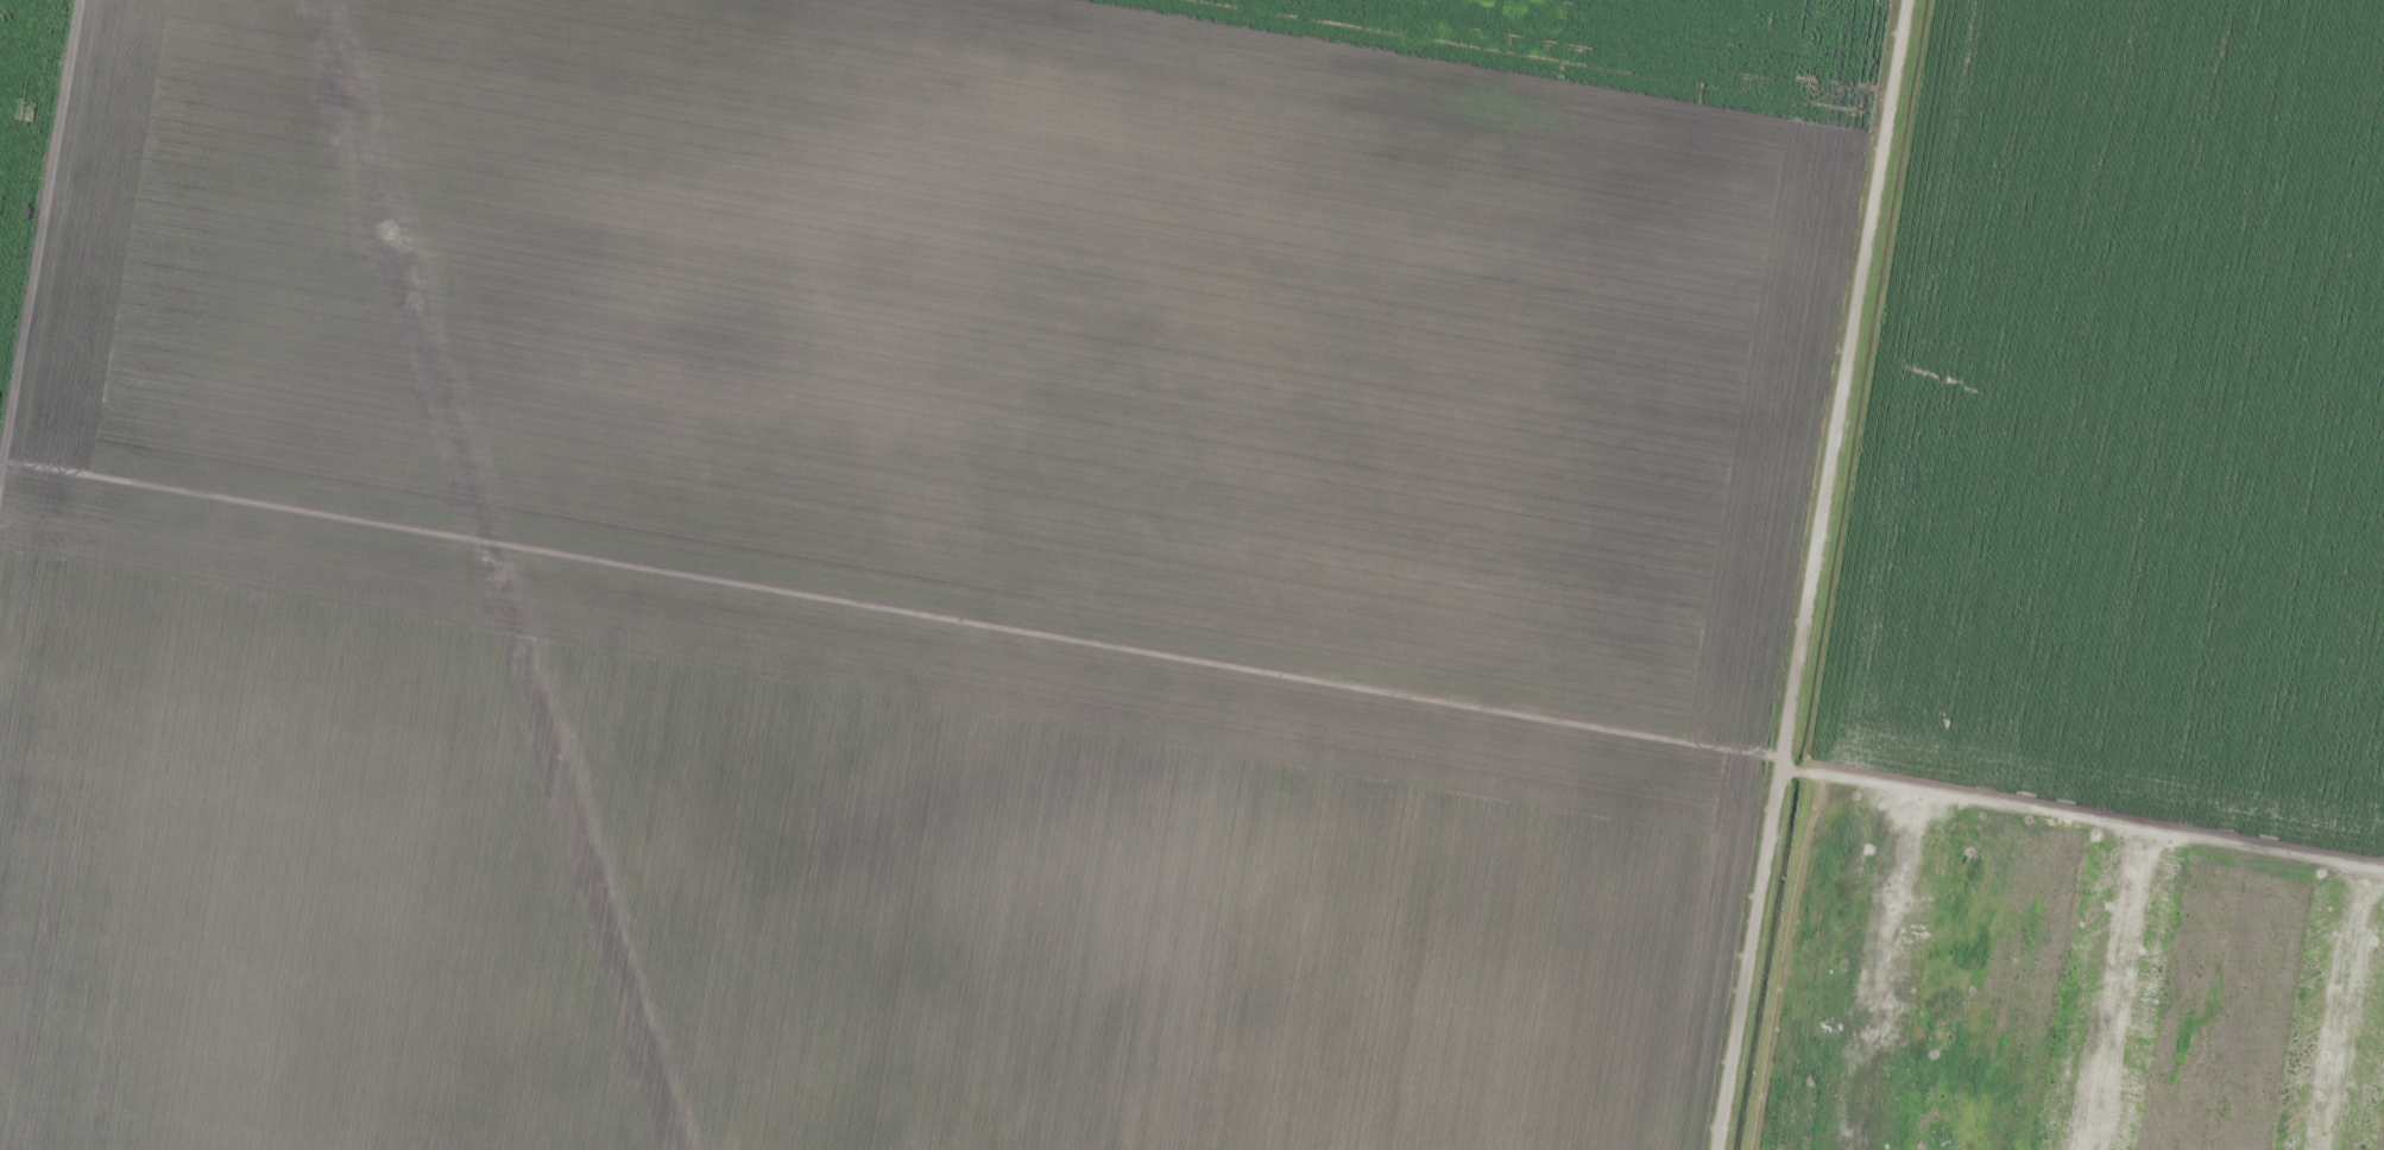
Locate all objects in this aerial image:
road: (1817, 575)

